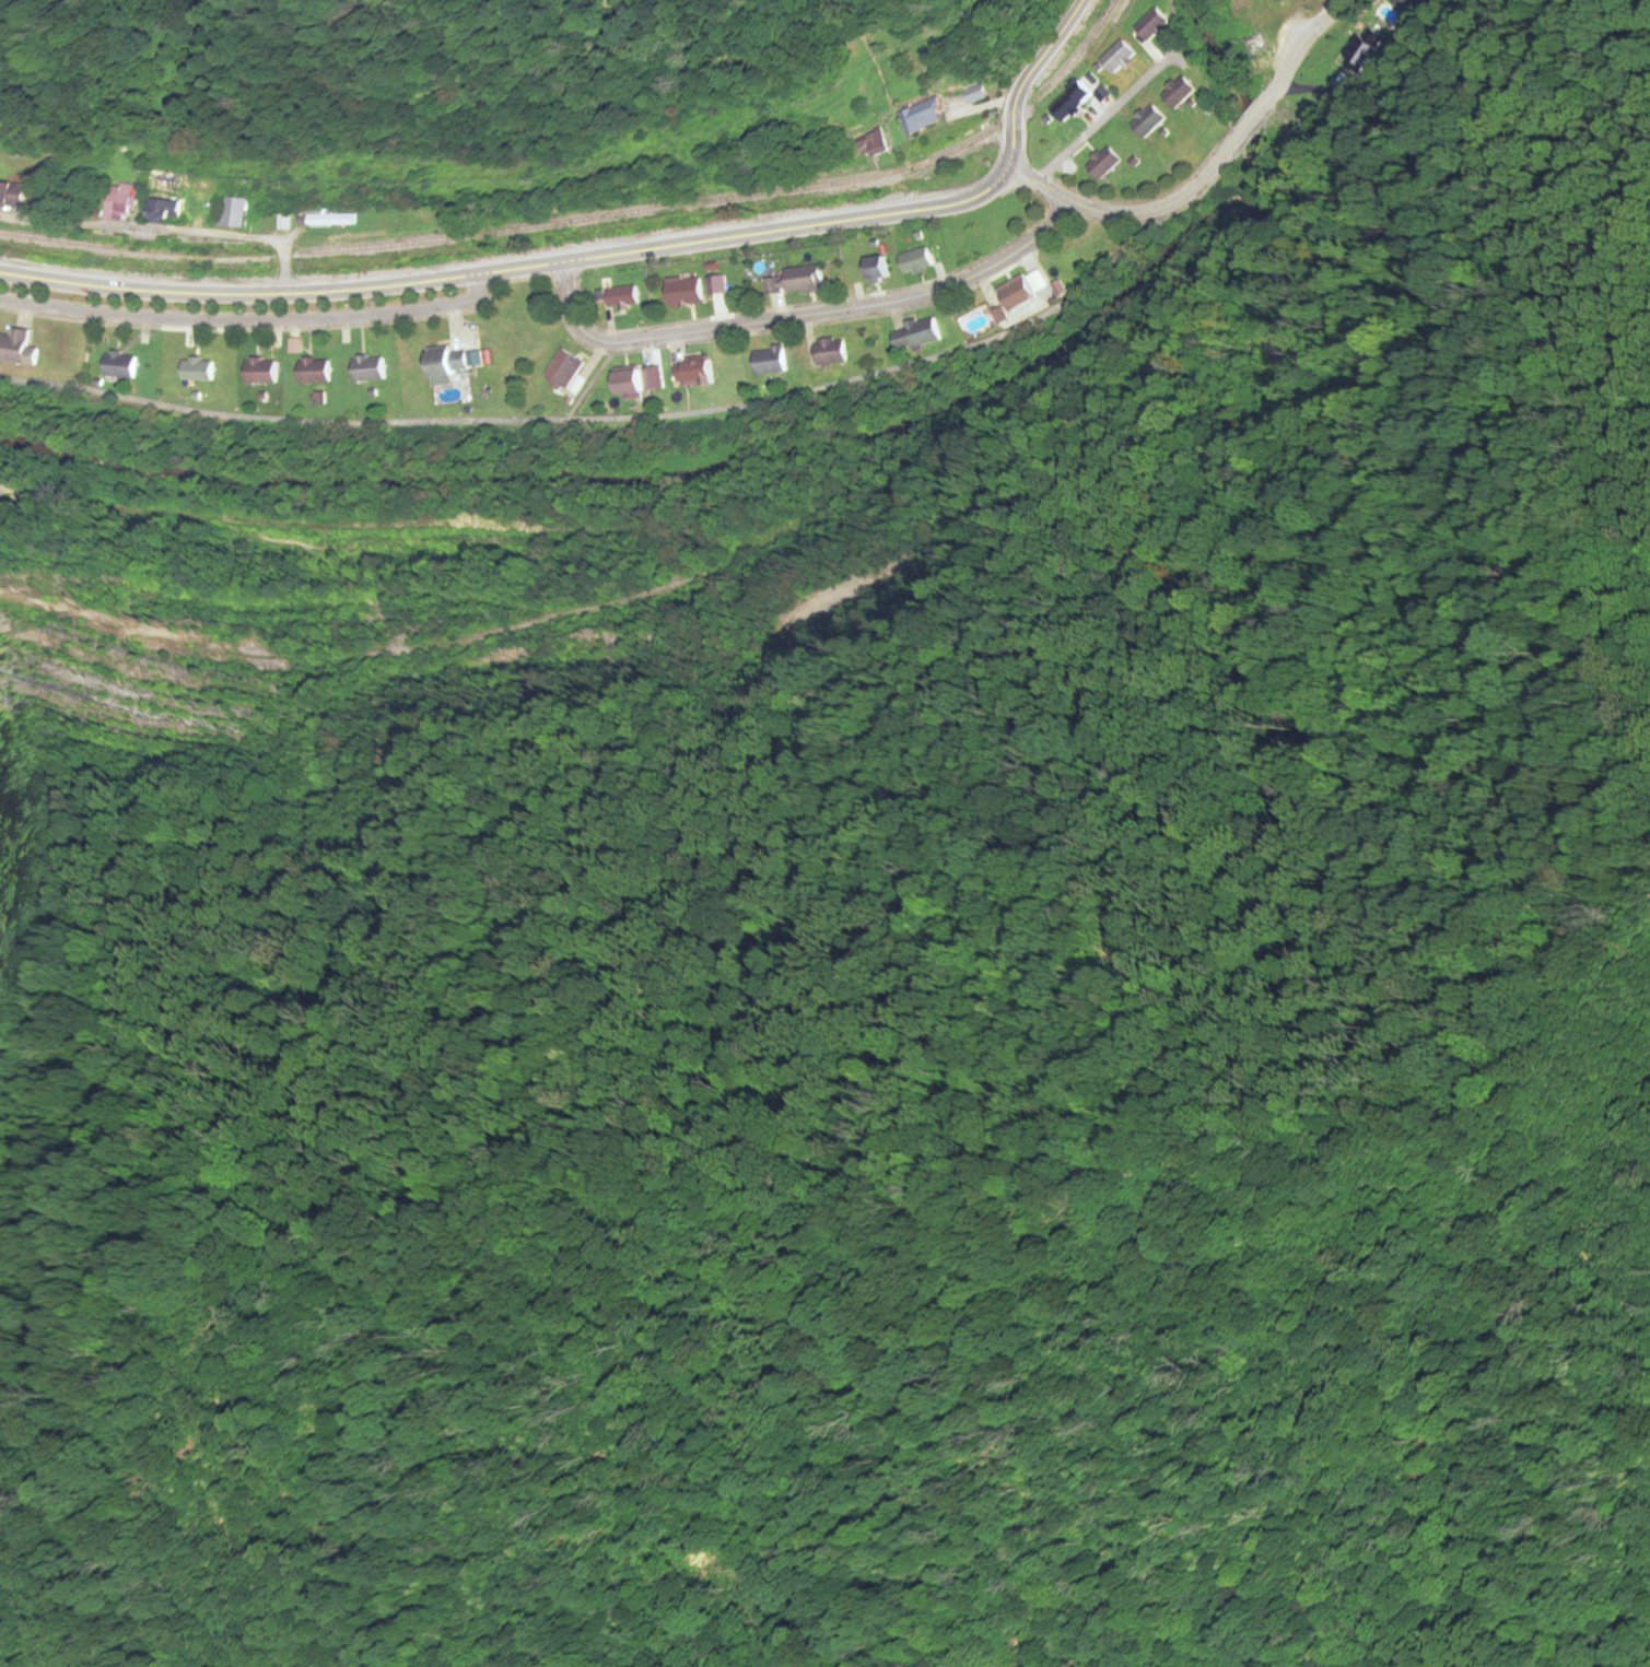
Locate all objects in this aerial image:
road: (1037, 63)
road: (1208, 175)
building: (9, 195)
building: (79, 197)
building: (115, 202)
building: (159, 211)
railway: (589, 220)
road: (527, 267)
road: (799, 317)
road: (251, 322)
building: (13, 347)
building: (442, 363)
building: (116, 366)
building: (364, 369)
building: (192, 371)
building: (256, 372)
building: (311, 372)

